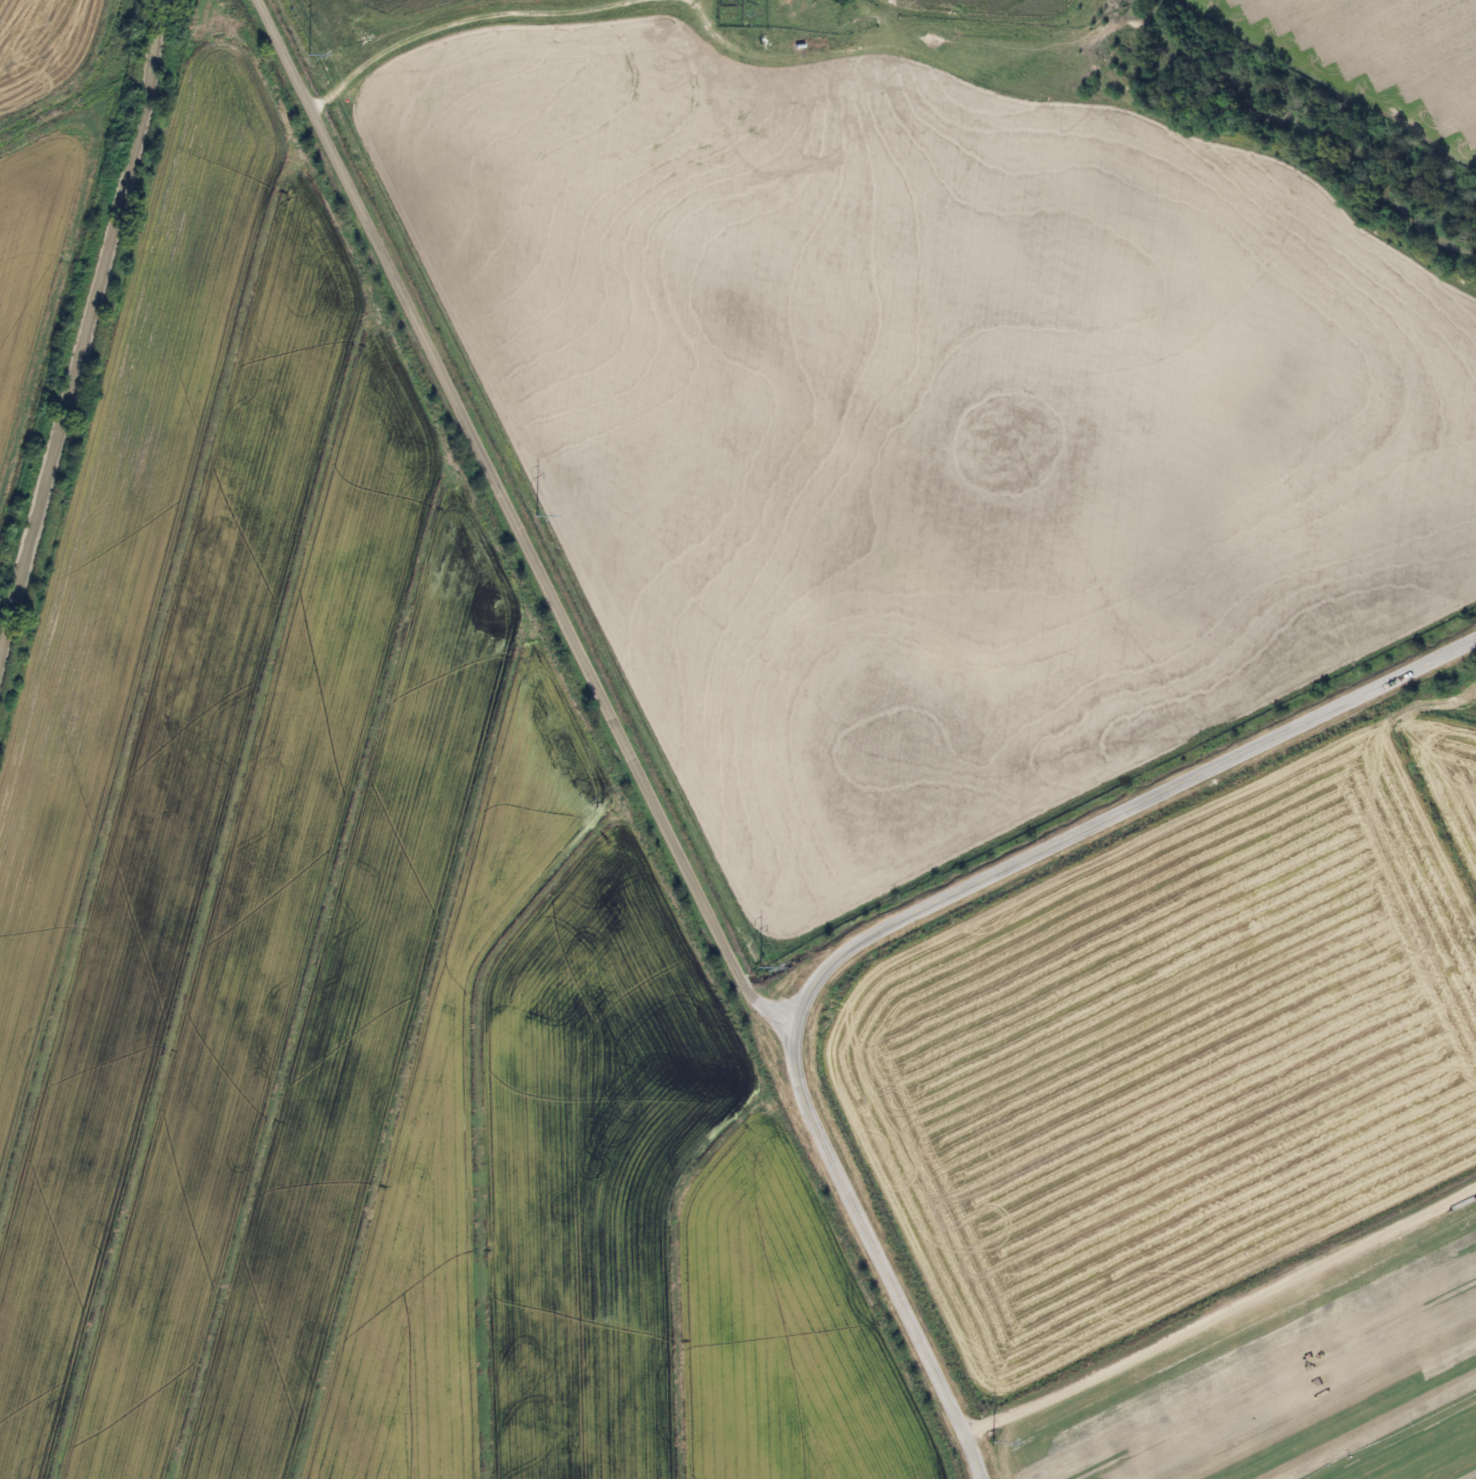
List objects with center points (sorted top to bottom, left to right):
road: (707, 15)
road: (457, 22)
road: (285, 54)
power tower: (301, 54)
power tower: (529, 513)
road: (540, 575)
road: (894, 921)
power tower: (750, 964)
road: (1218, 1310)
power tower: (985, 1442)

